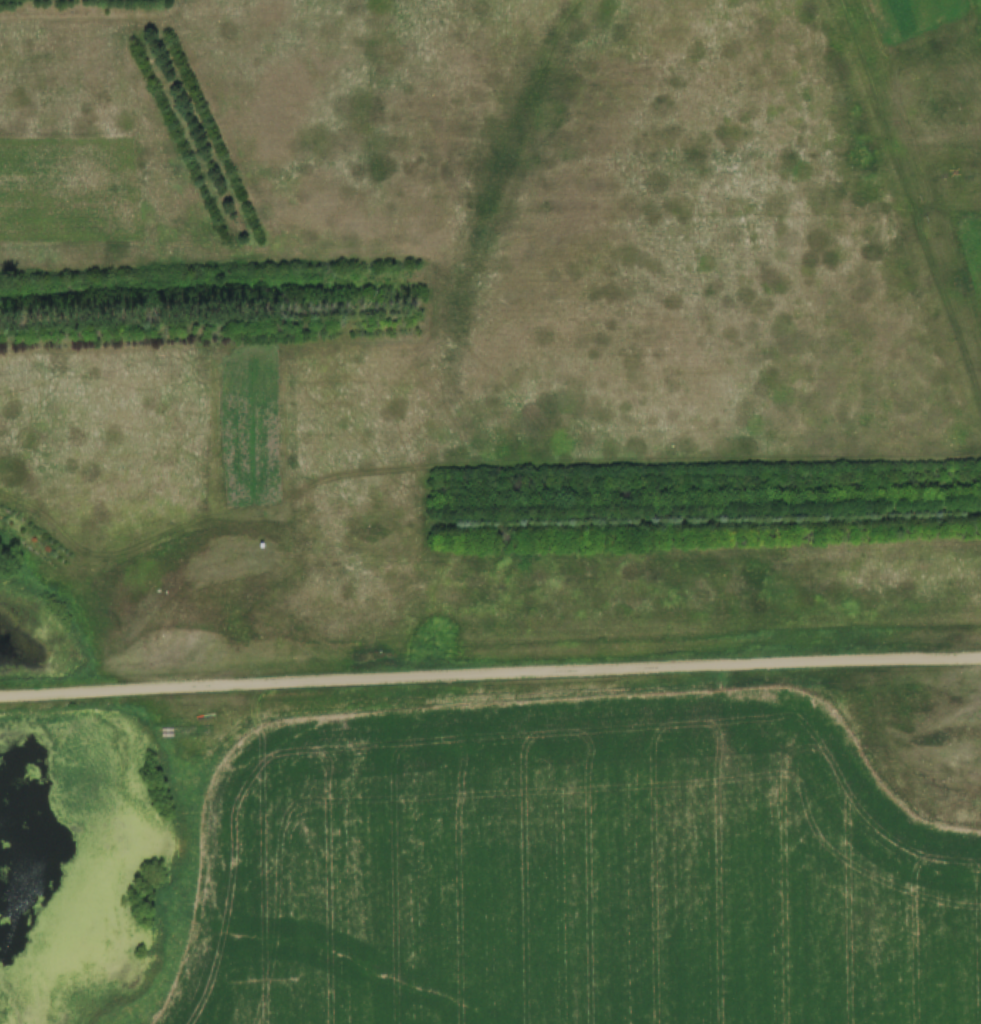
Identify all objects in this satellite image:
road: (490, 677)

